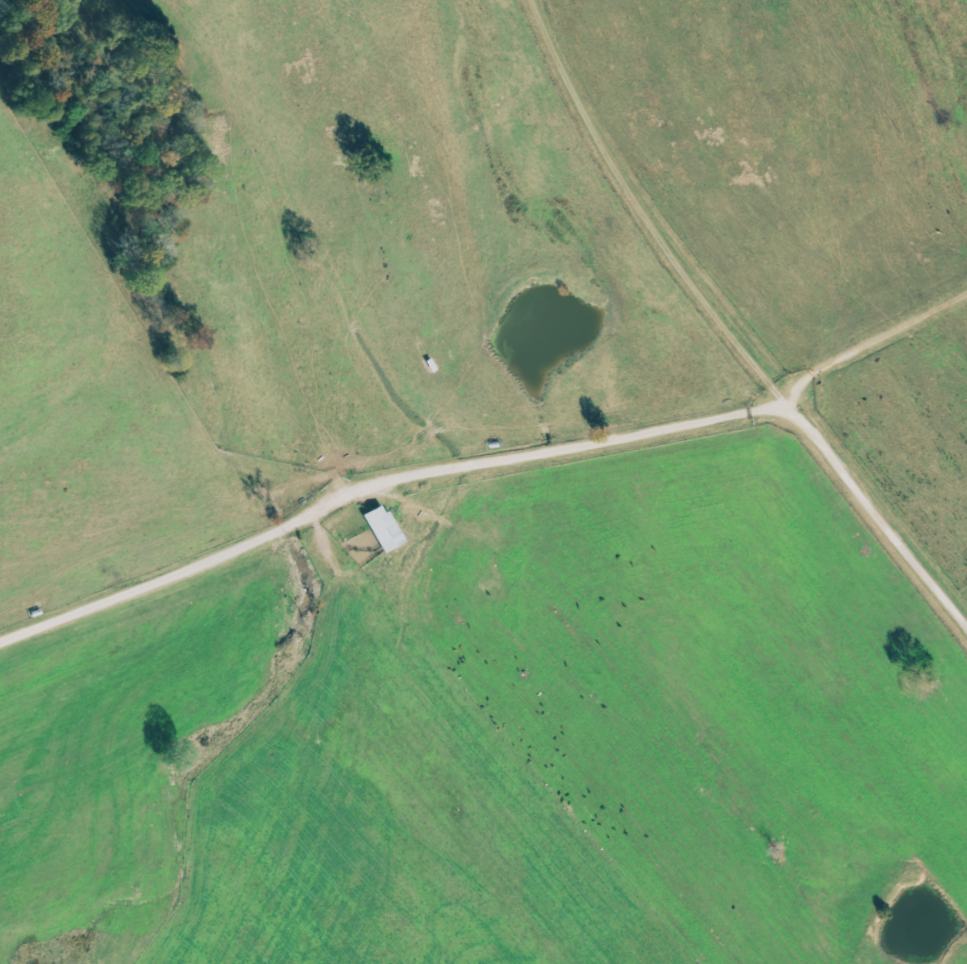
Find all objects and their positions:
road: (624, 220)
road: (381, 486)
road: (876, 517)

